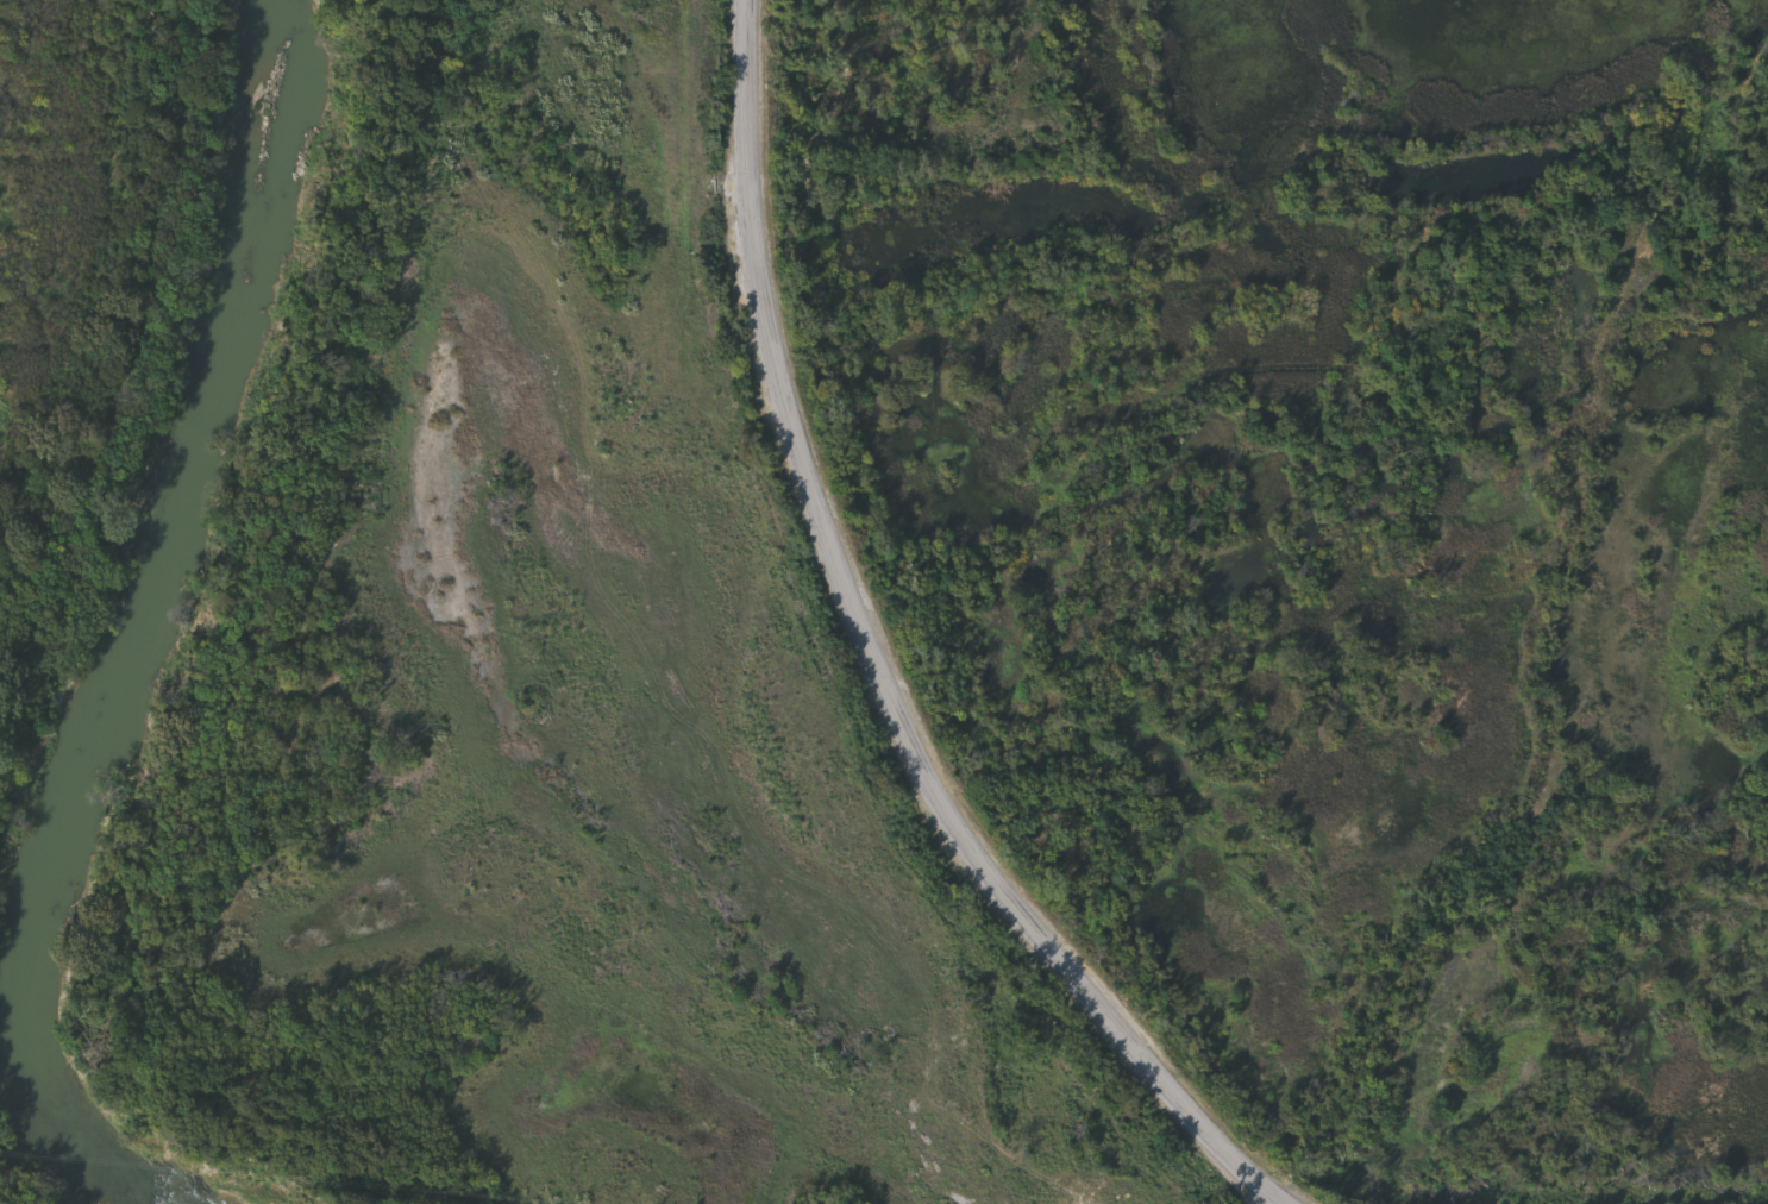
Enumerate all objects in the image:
river: (137, 632)
road: (878, 665)

